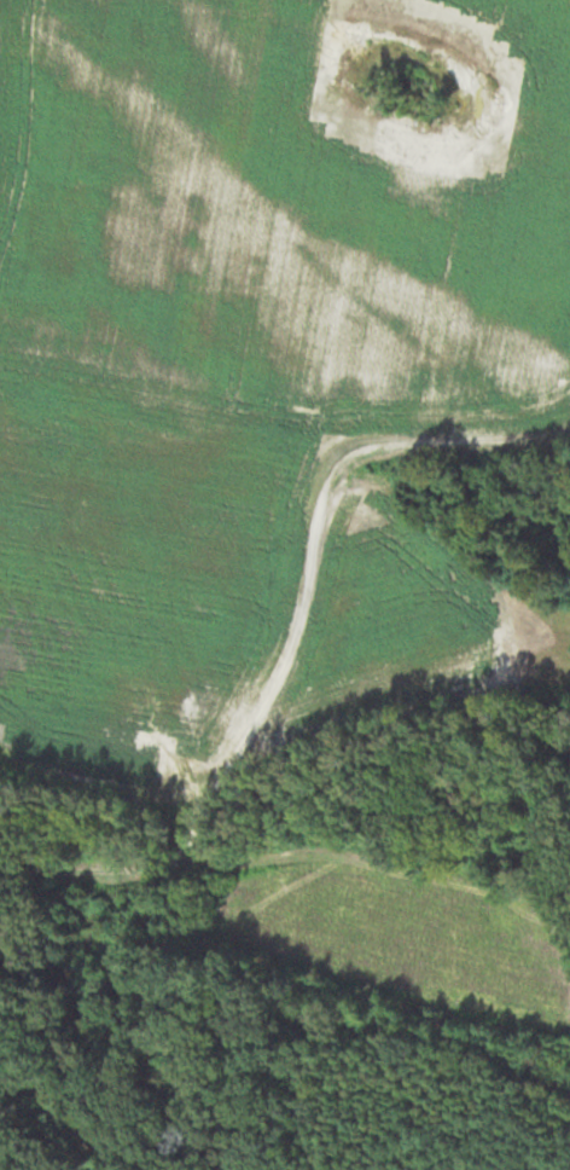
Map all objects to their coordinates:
road: (292, 638)

